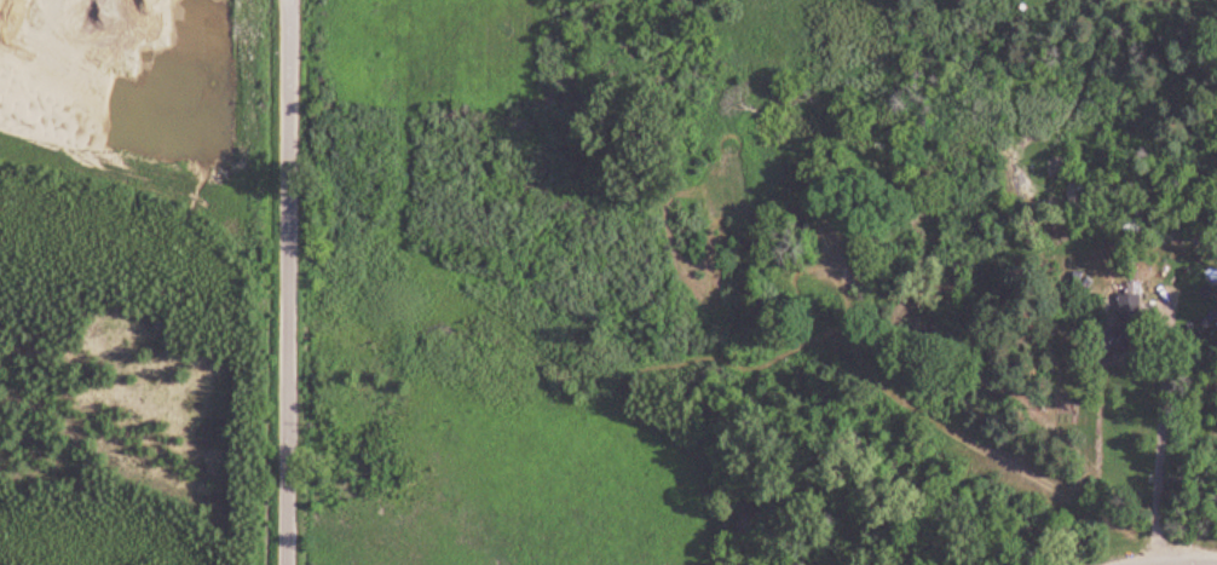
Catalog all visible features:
road: (290, 282)
building: (1134, 311)
building: (1118, 342)
road: (1161, 439)
road: (1181, 561)

